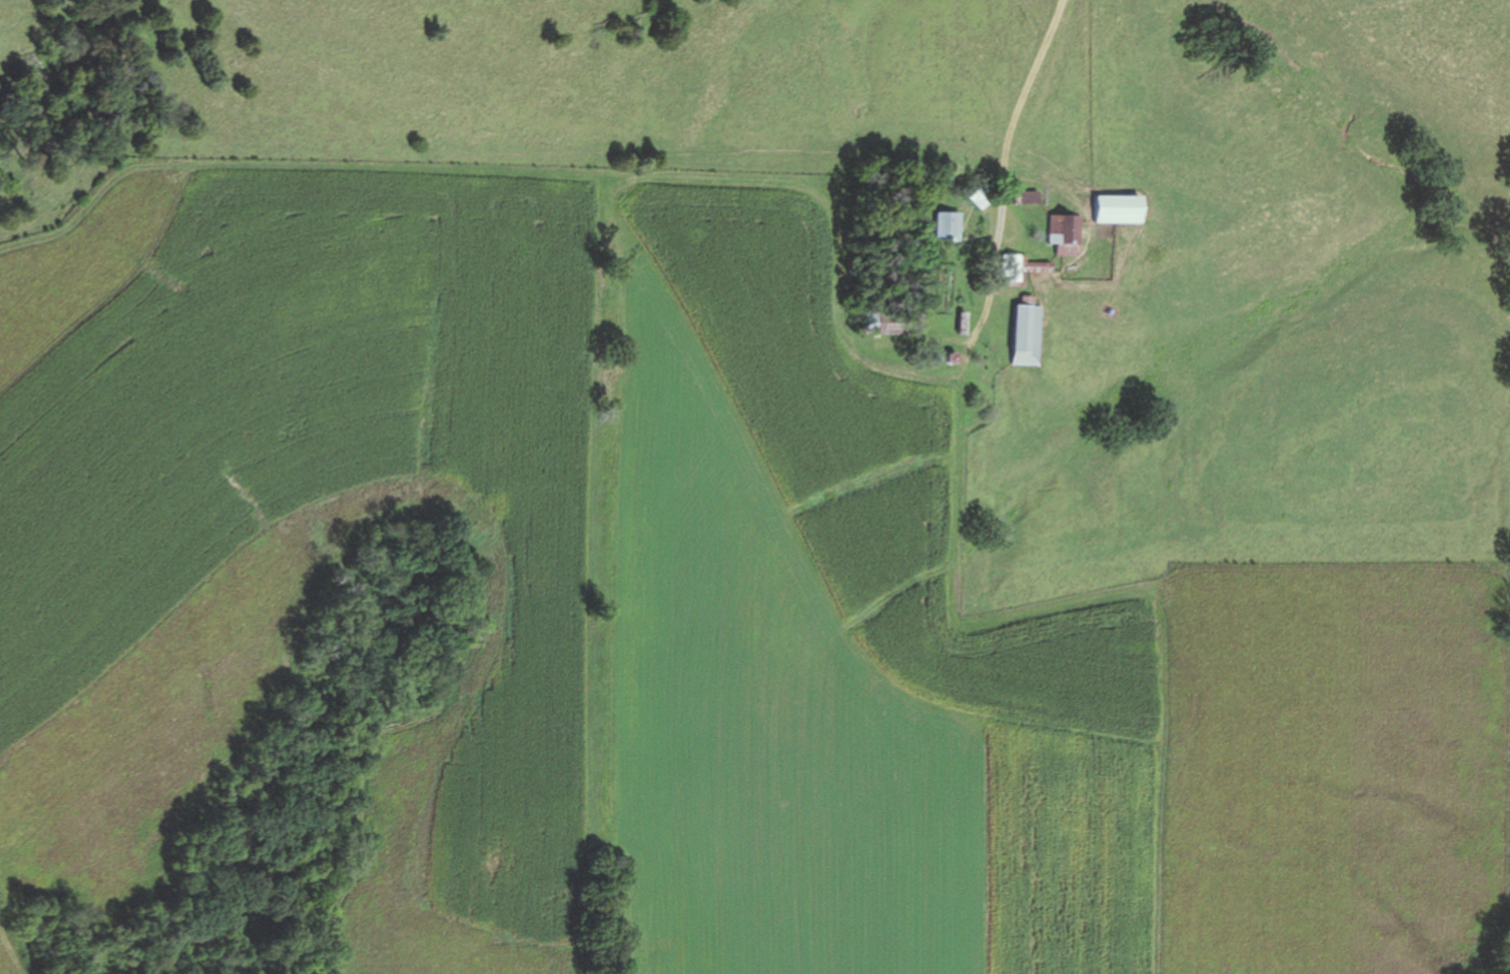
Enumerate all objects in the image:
road: (1013, 120)
building: (978, 197)
building: (1105, 208)
building: (930, 223)
building: (946, 225)
building: (1053, 233)
building: (1018, 339)

